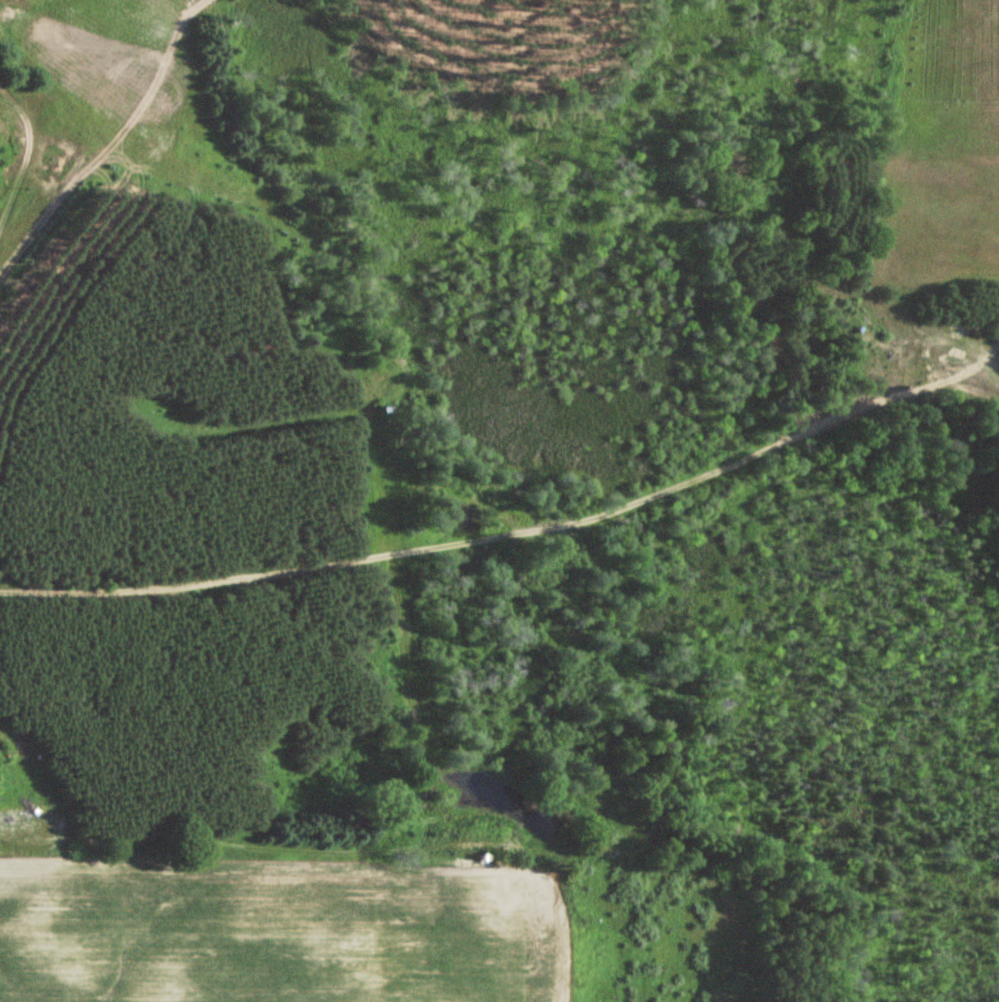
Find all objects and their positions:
road: (491, 543)

